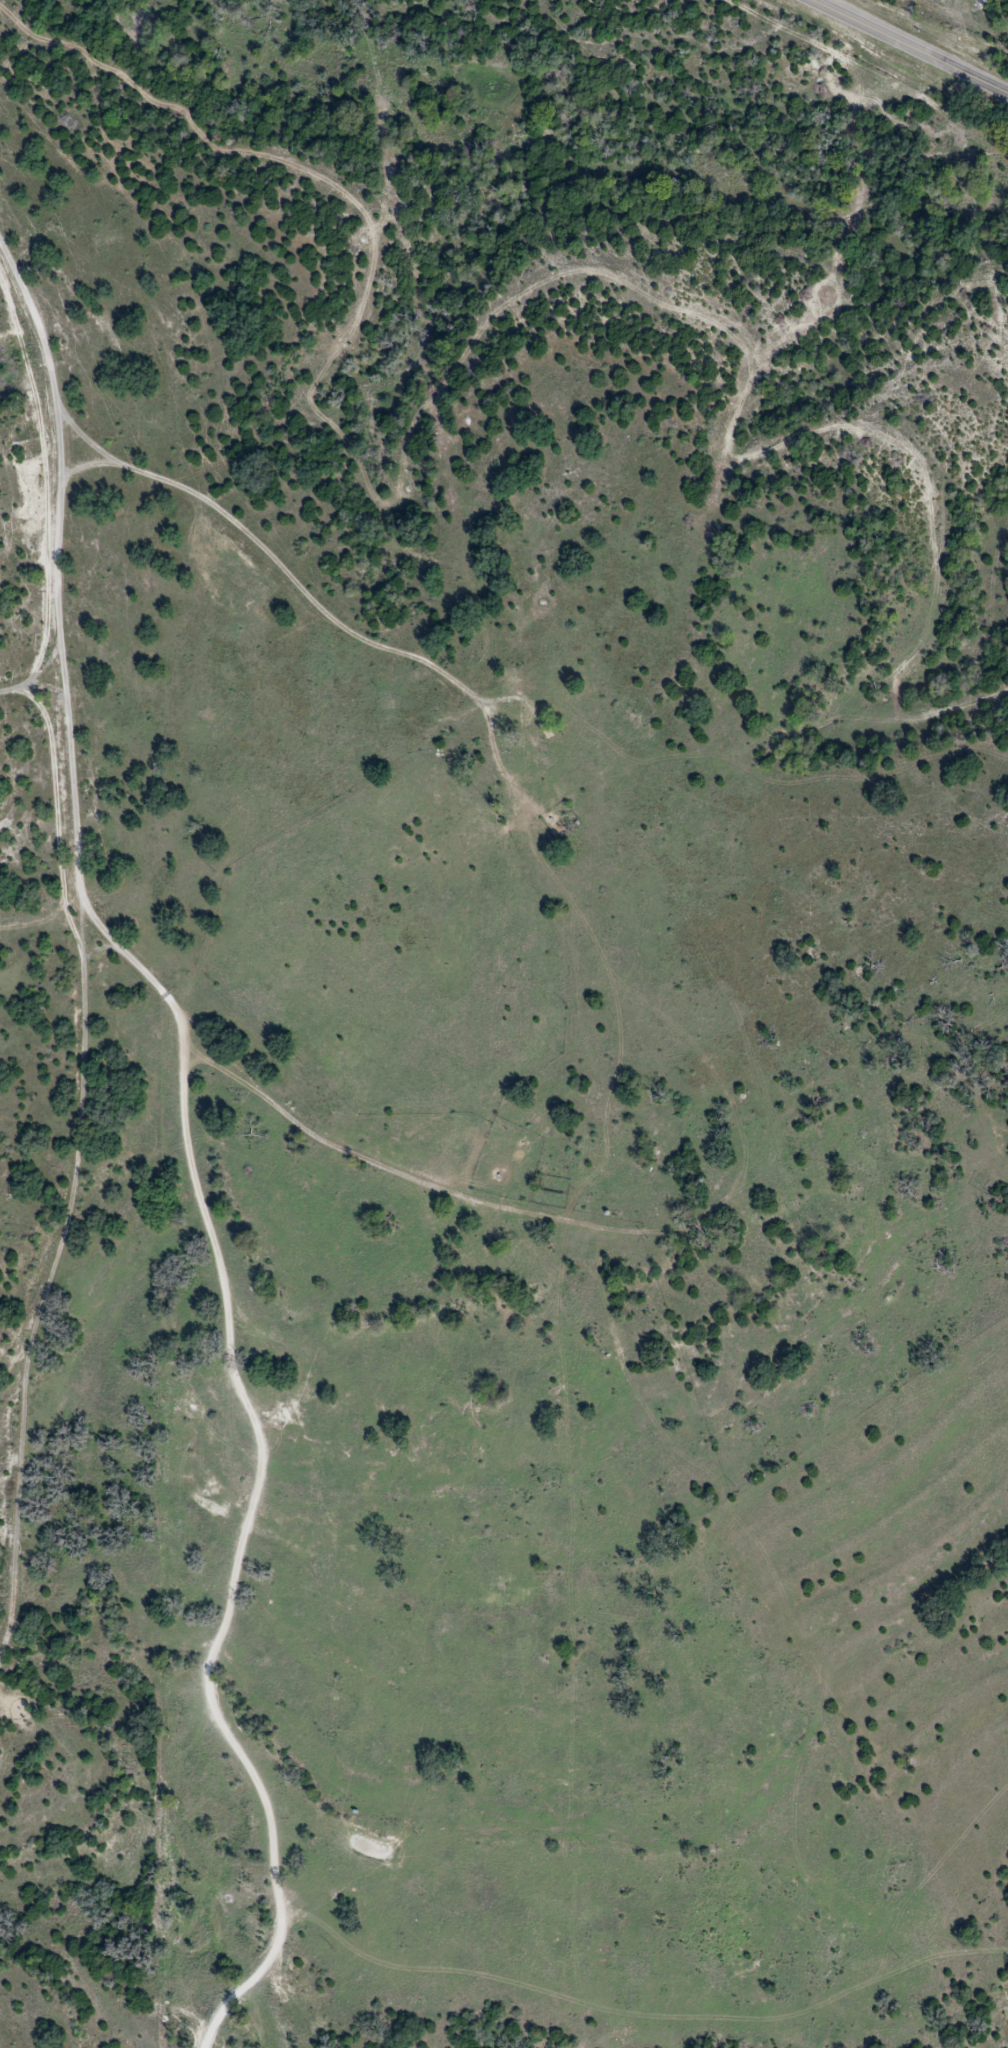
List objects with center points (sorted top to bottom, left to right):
road: (912, 45)
road: (277, 569)
road: (13, 702)
road: (29, 811)
road: (585, 1224)

